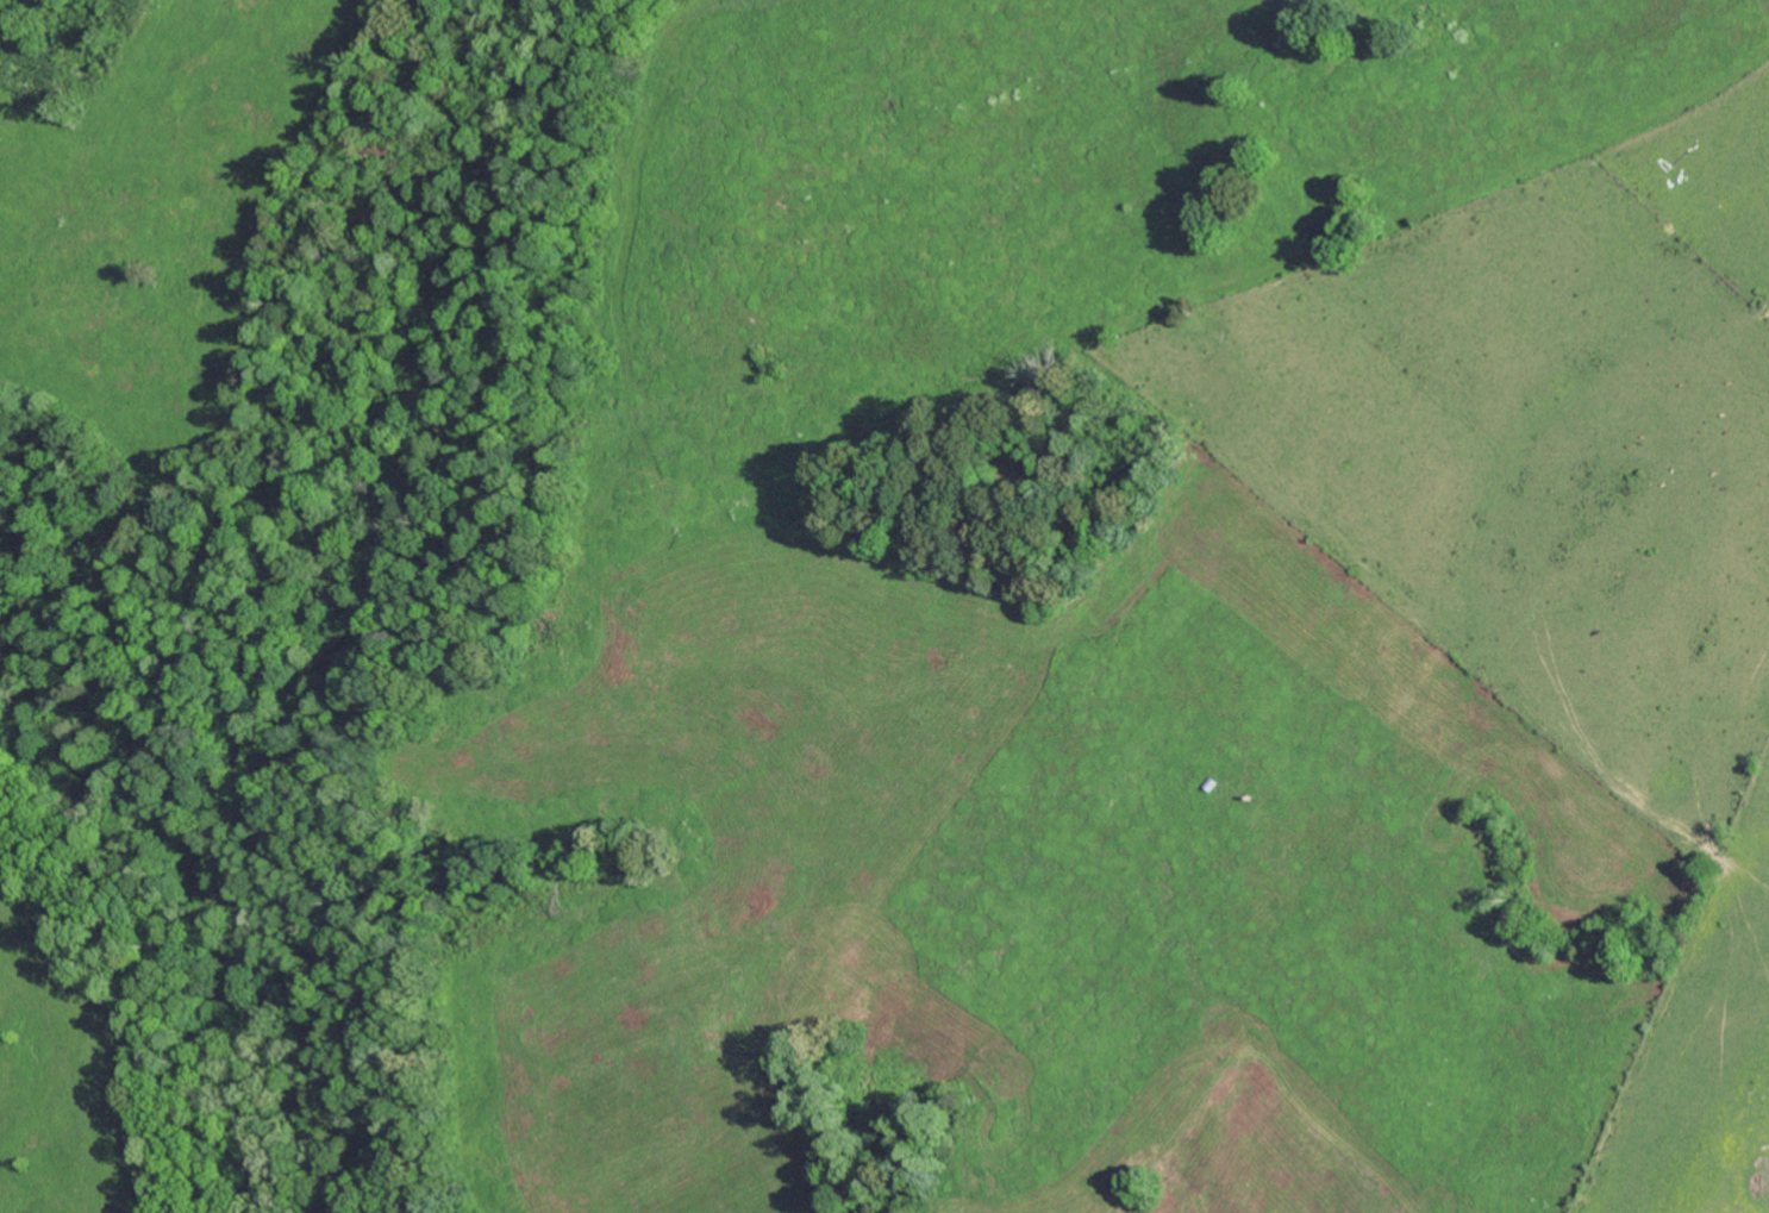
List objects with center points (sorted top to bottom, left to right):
road: (1530, 899)
road: (1290, 1140)

